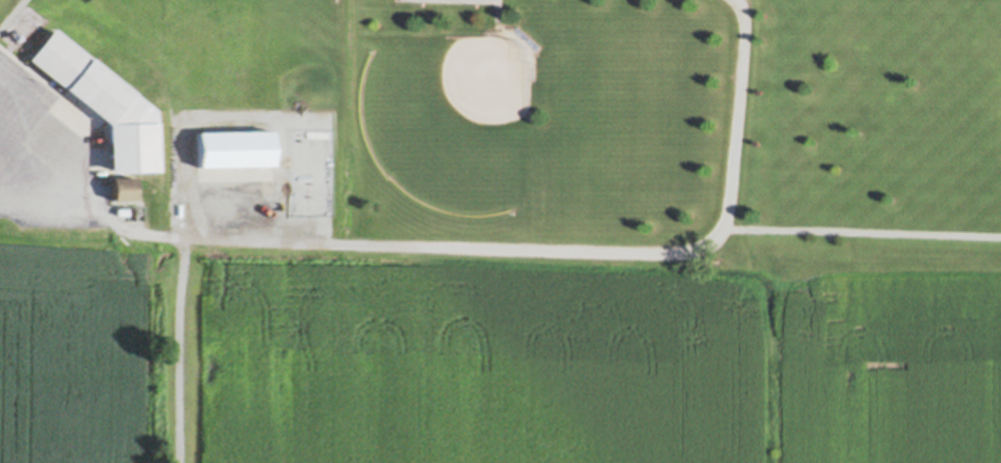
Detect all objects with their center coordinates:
road: (12, 14)
road: (494, 16)
park: (219, 44)
building: (104, 103)
park: (448, 117)
park: (676, 132)
building: (237, 148)
park: (157, 156)
building: (123, 189)
building: (122, 211)
road: (860, 230)
road: (473, 245)
crop: (484, 360)

